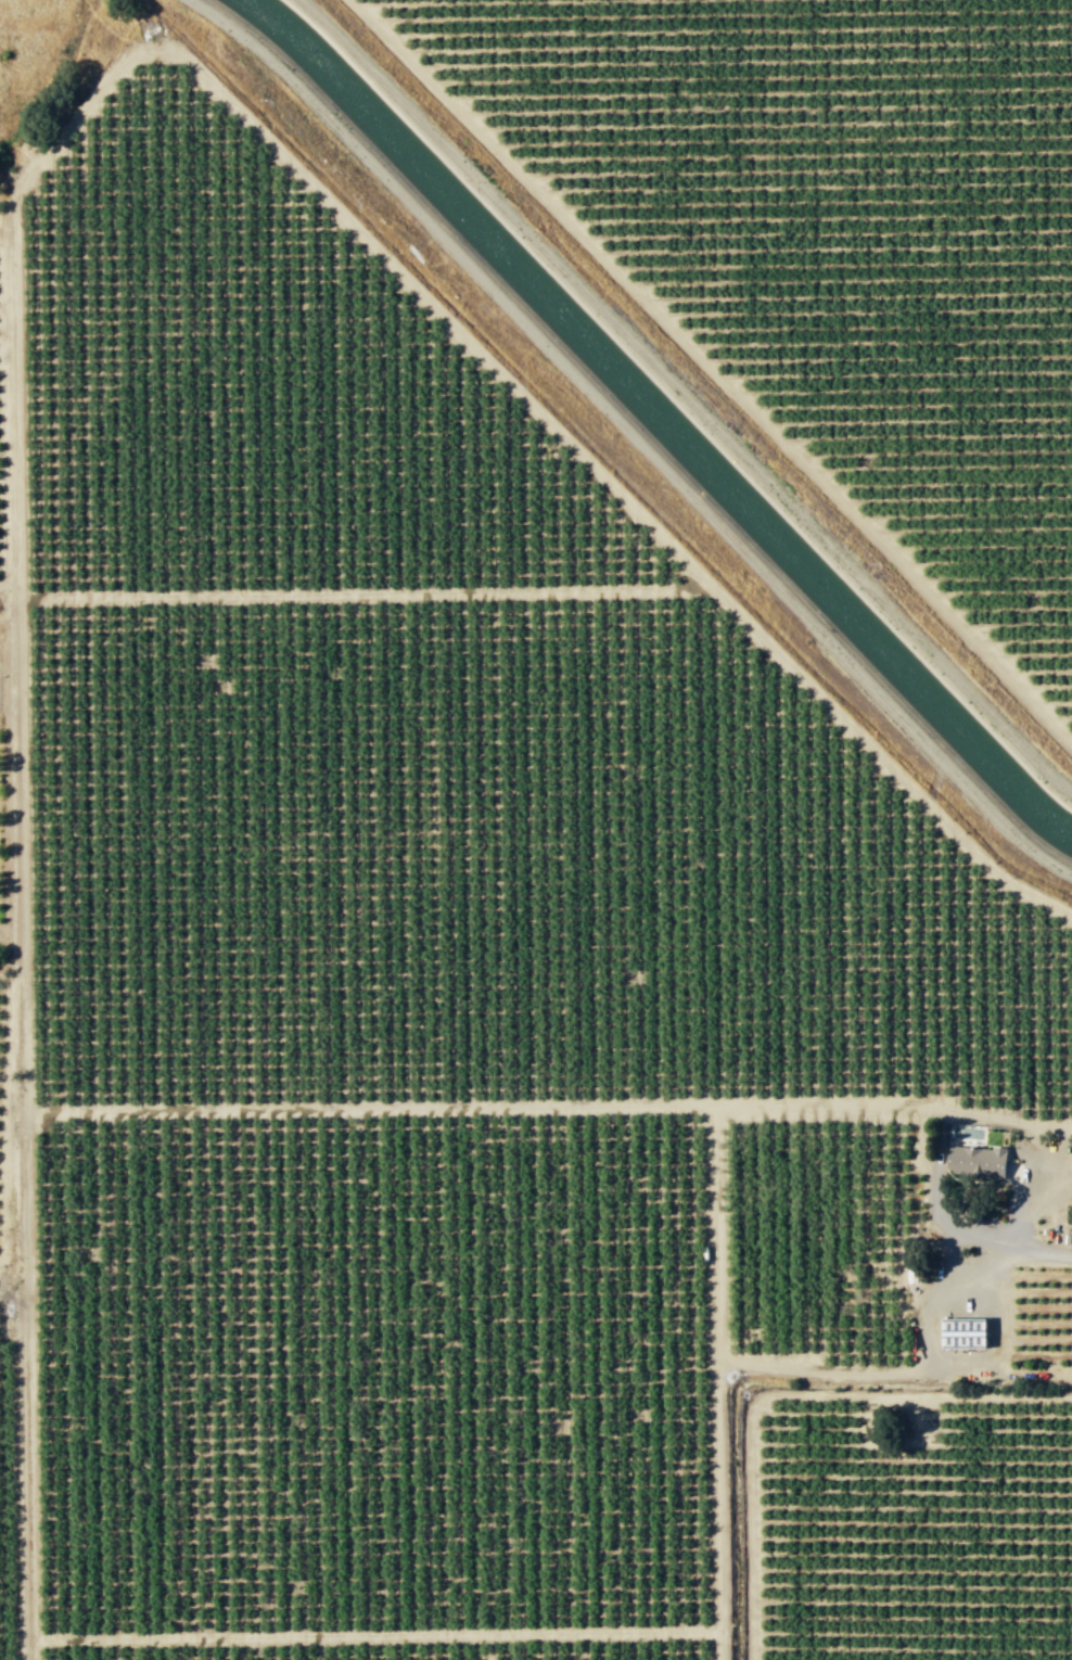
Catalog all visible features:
road: (14, 192)
road: (711, 370)
road: (631, 436)
road: (363, 591)
road: (549, 1104)
building: (978, 1161)
road: (1029, 1199)
road: (936, 1210)
road: (972, 1287)
road: (937, 1305)
road: (1003, 1305)
building: (965, 1332)
road: (894, 1375)
road: (720, 1381)
road: (784, 1392)
road: (380, 1634)

